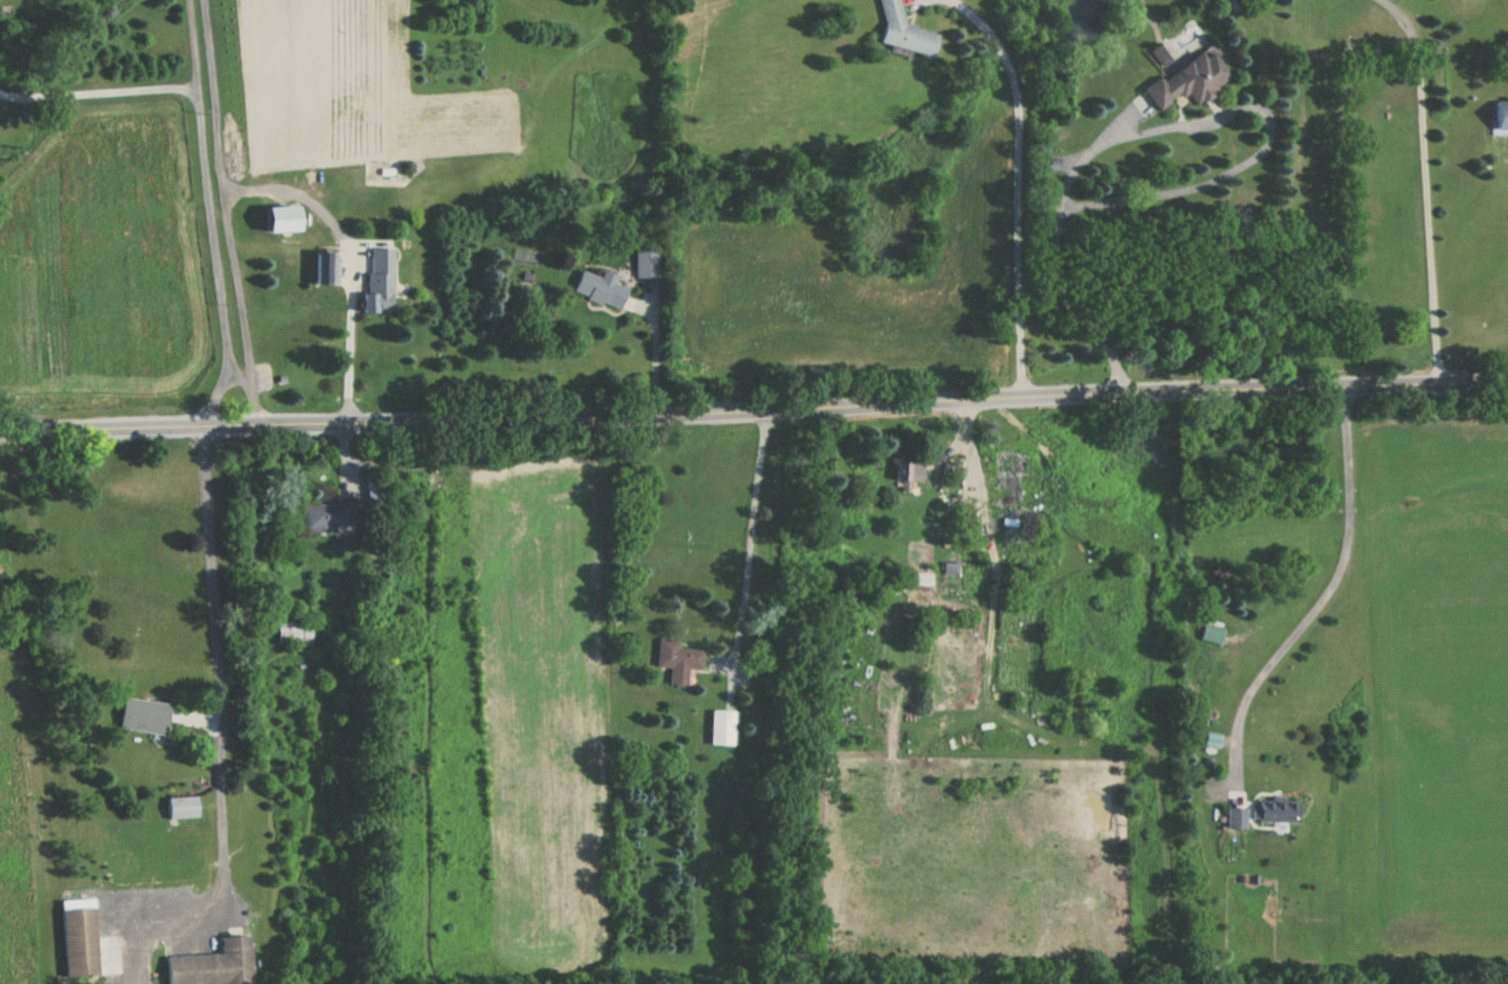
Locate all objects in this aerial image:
building: (902, 31)
building: (1160, 56)
building: (1188, 80)
road: (95, 91)
building: (1500, 115)
road: (1171, 131)
road: (1024, 182)
road: (1424, 184)
road: (207, 187)
road: (292, 192)
road: (226, 212)
building: (279, 218)
building: (644, 261)
building: (323, 266)
building: (377, 280)
building: (599, 288)
road: (350, 331)
road: (657, 350)
road: (238, 375)
road: (213, 399)
road: (754, 411)
road: (972, 458)
road: (343, 461)
building: (908, 471)
building: (1009, 480)
building: (374, 487)
building: (323, 516)
road: (749, 527)
road: (1330, 595)
building: (291, 632)
building: (676, 660)
building: (140, 715)
road: (195, 719)
crop: (500, 724)
building: (720, 727)
road: (218, 740)
building: (1211, 740)
crop: (14, 800)
building: (180, 808)
building: (1272, 811)
building: (1234, 816)
crop: (964, 872)
building: (77, 938)
building: (212, 964)

